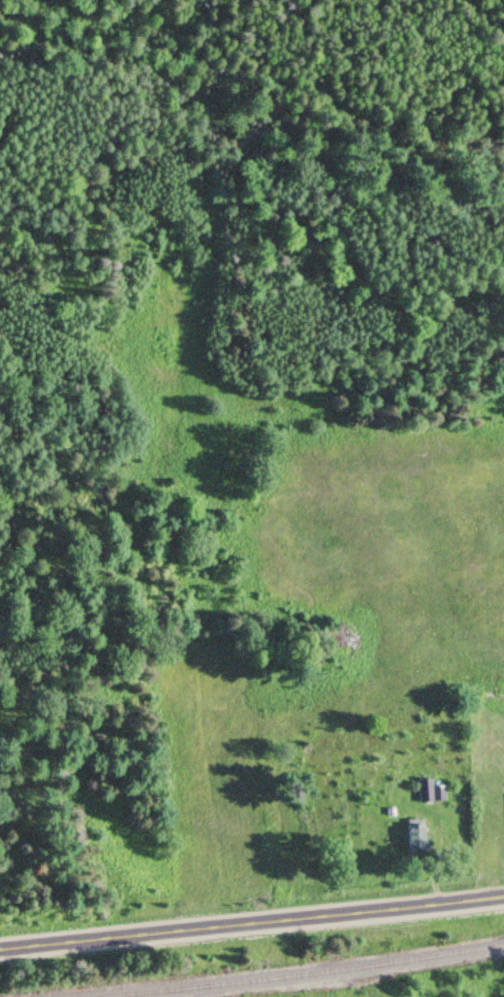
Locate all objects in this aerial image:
building: (412, 834)
building: (488, 859)
road: (251, 923)
railway: (296, 974)

